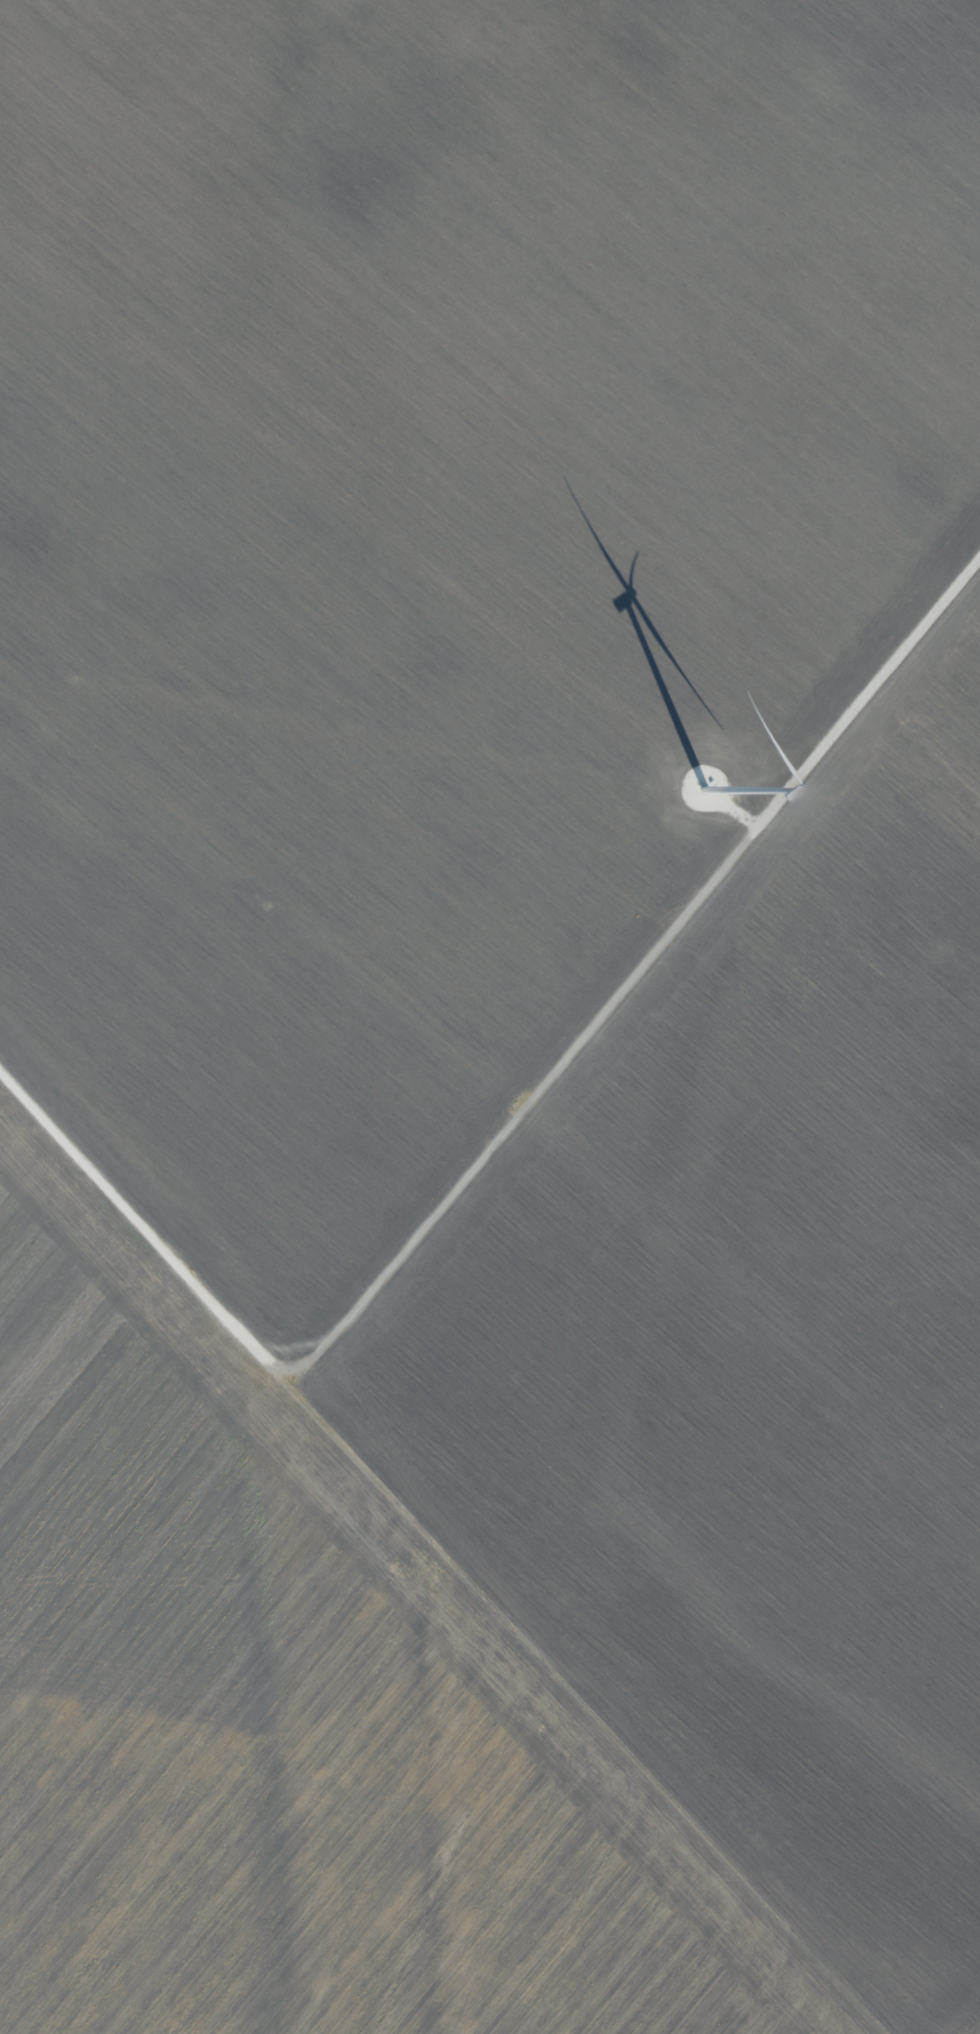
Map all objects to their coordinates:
wind turbine: (699, 778)

